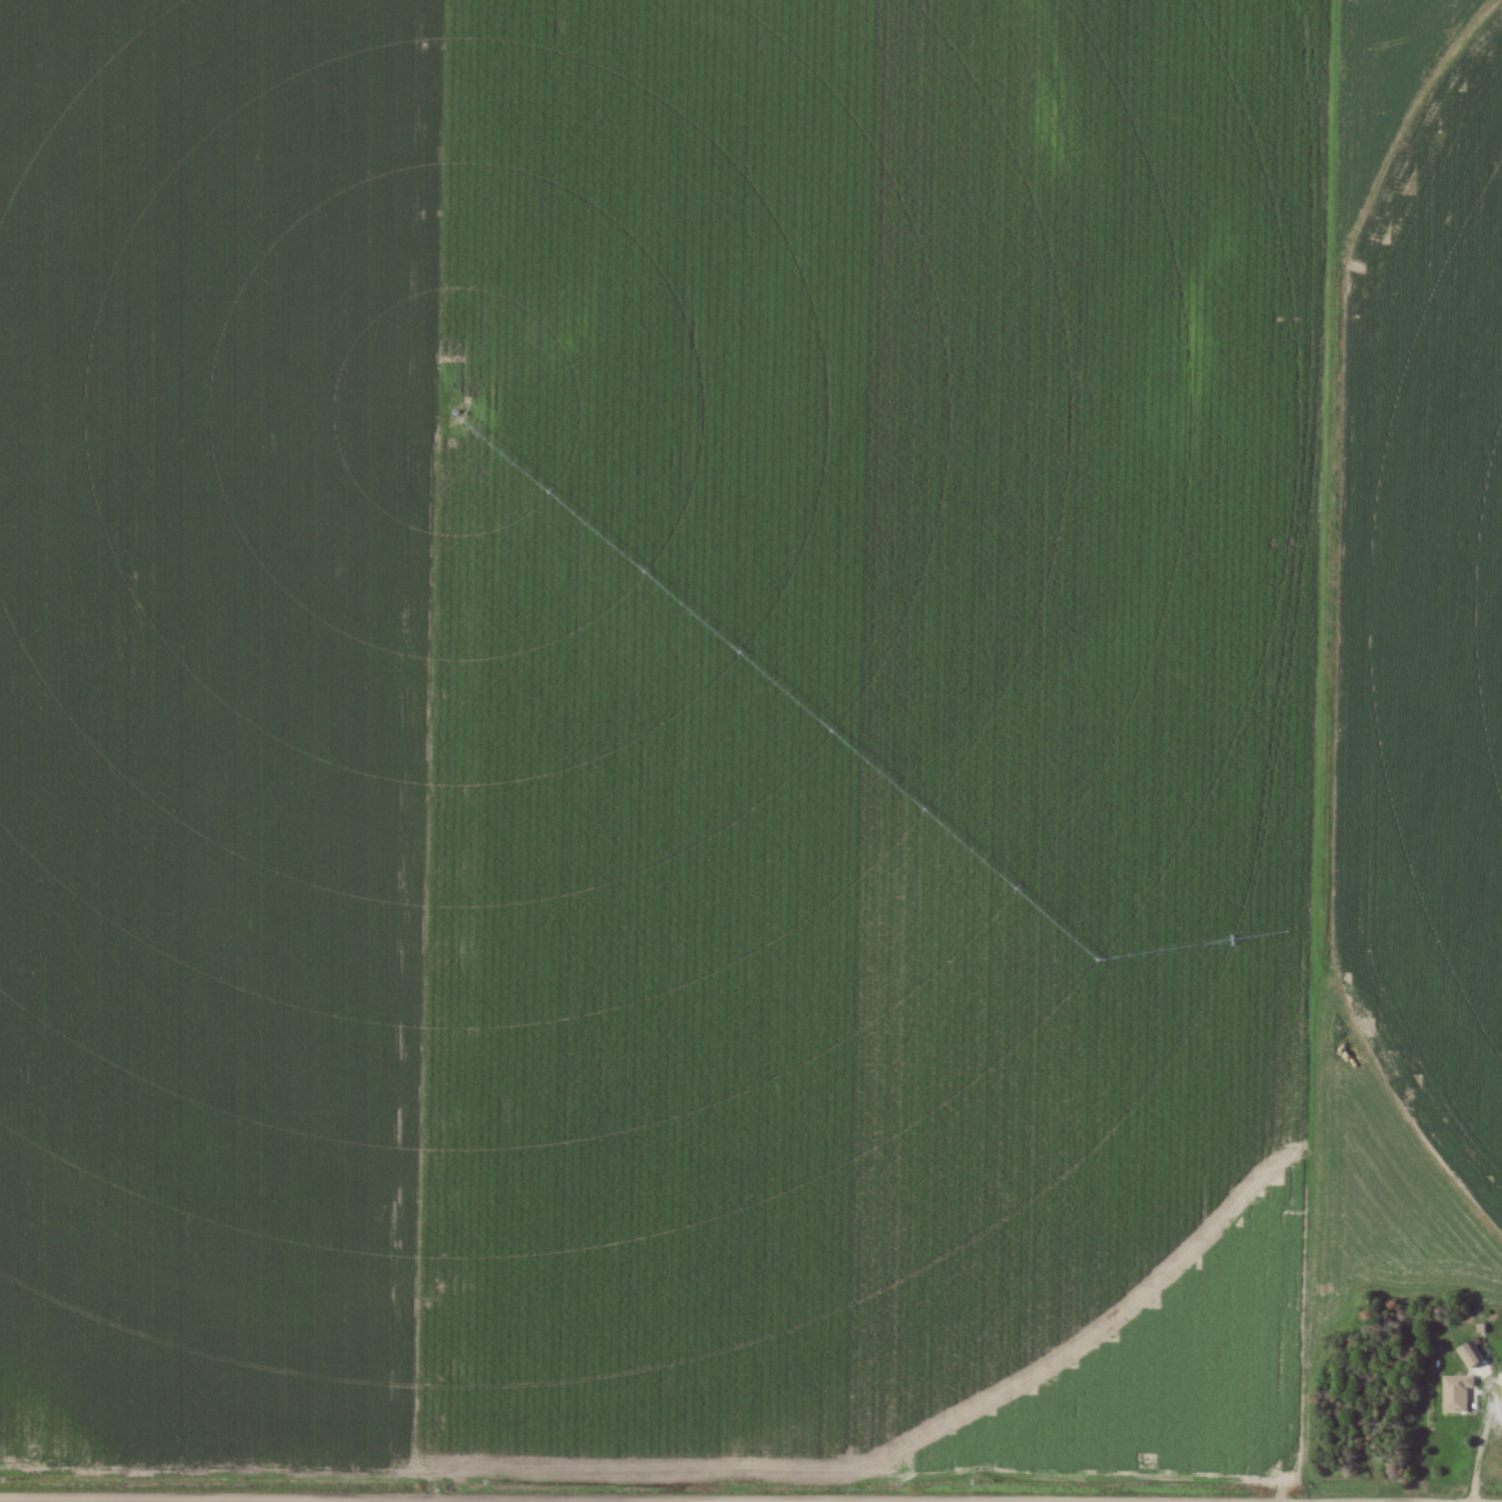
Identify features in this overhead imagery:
building: (1469, 1354)
building: (1455, 1394)
road: (112, 1501)

